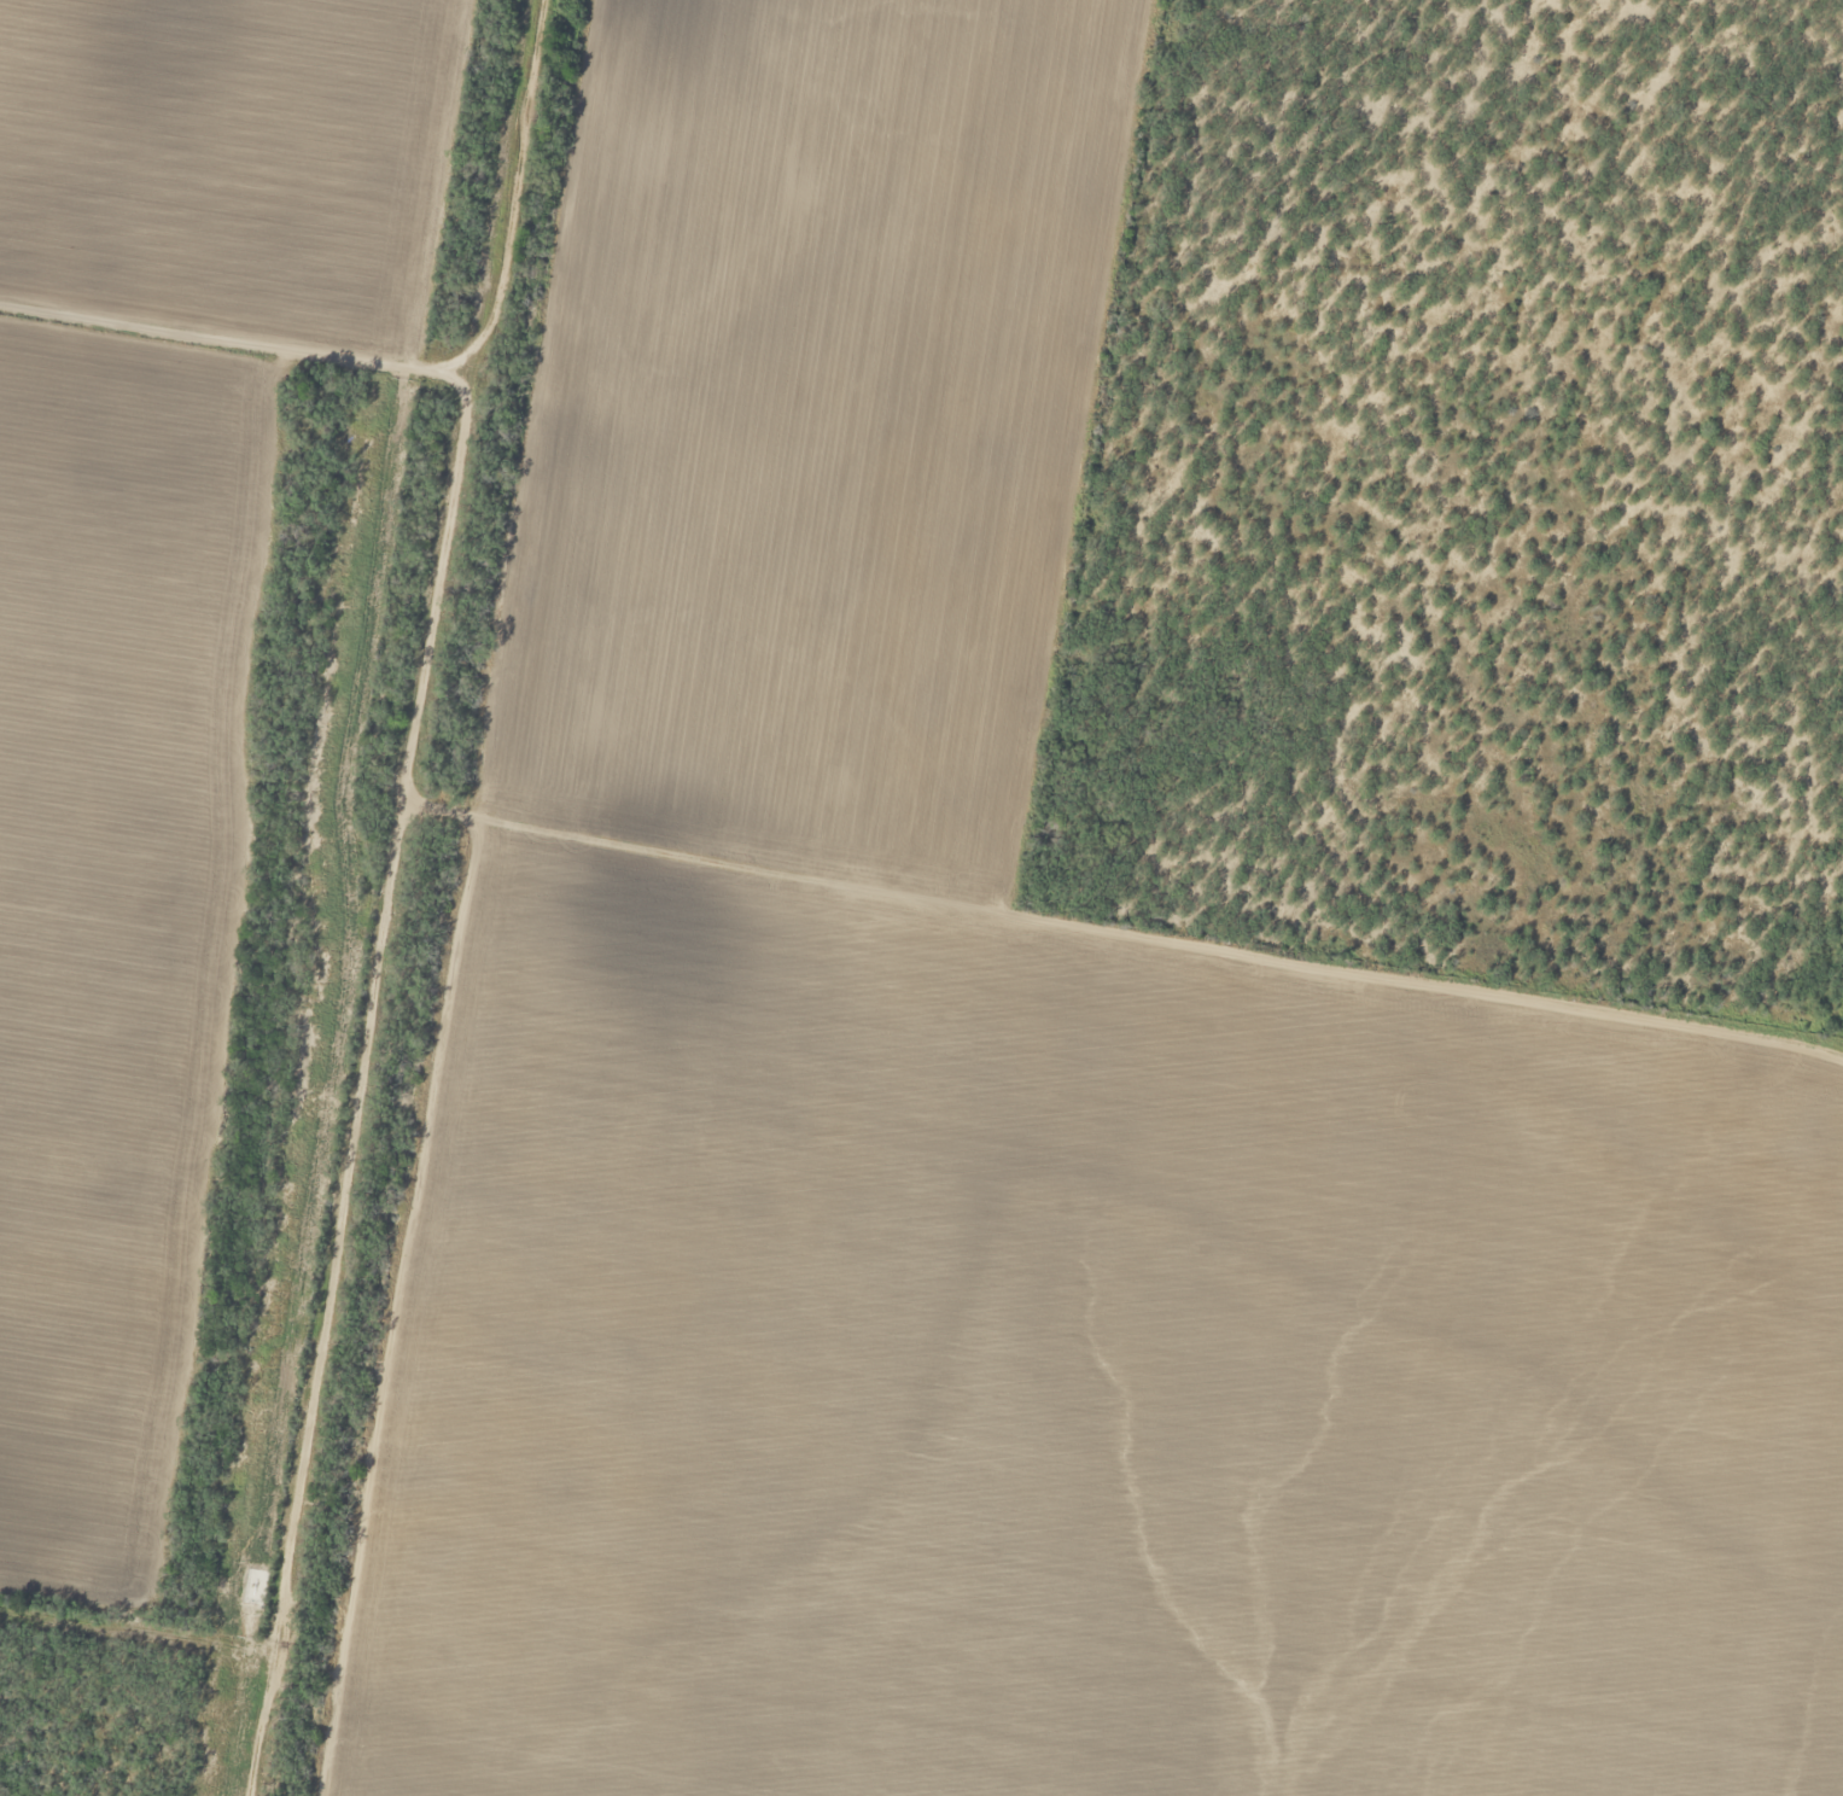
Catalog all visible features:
road: (205, 348)
road: (342, 897)
railway: (409, 898)

